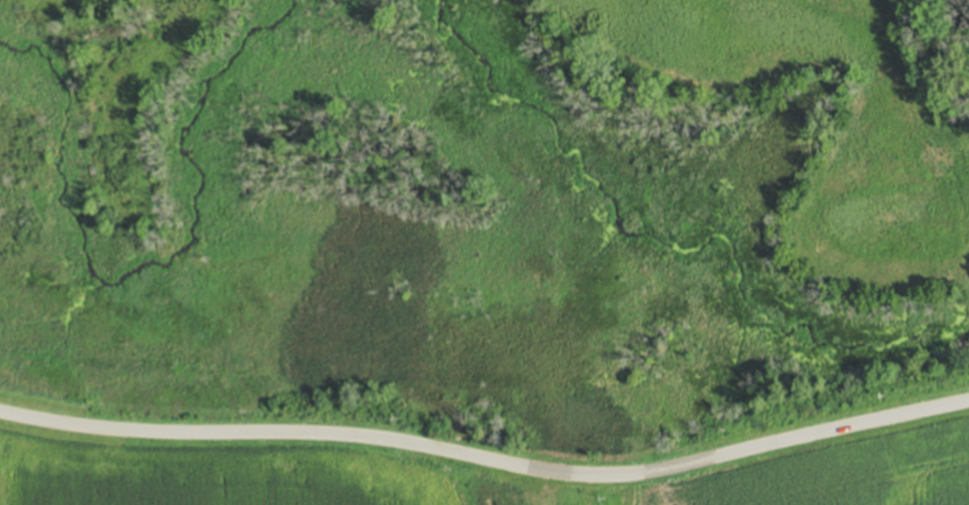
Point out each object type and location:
road: (487, 459)

